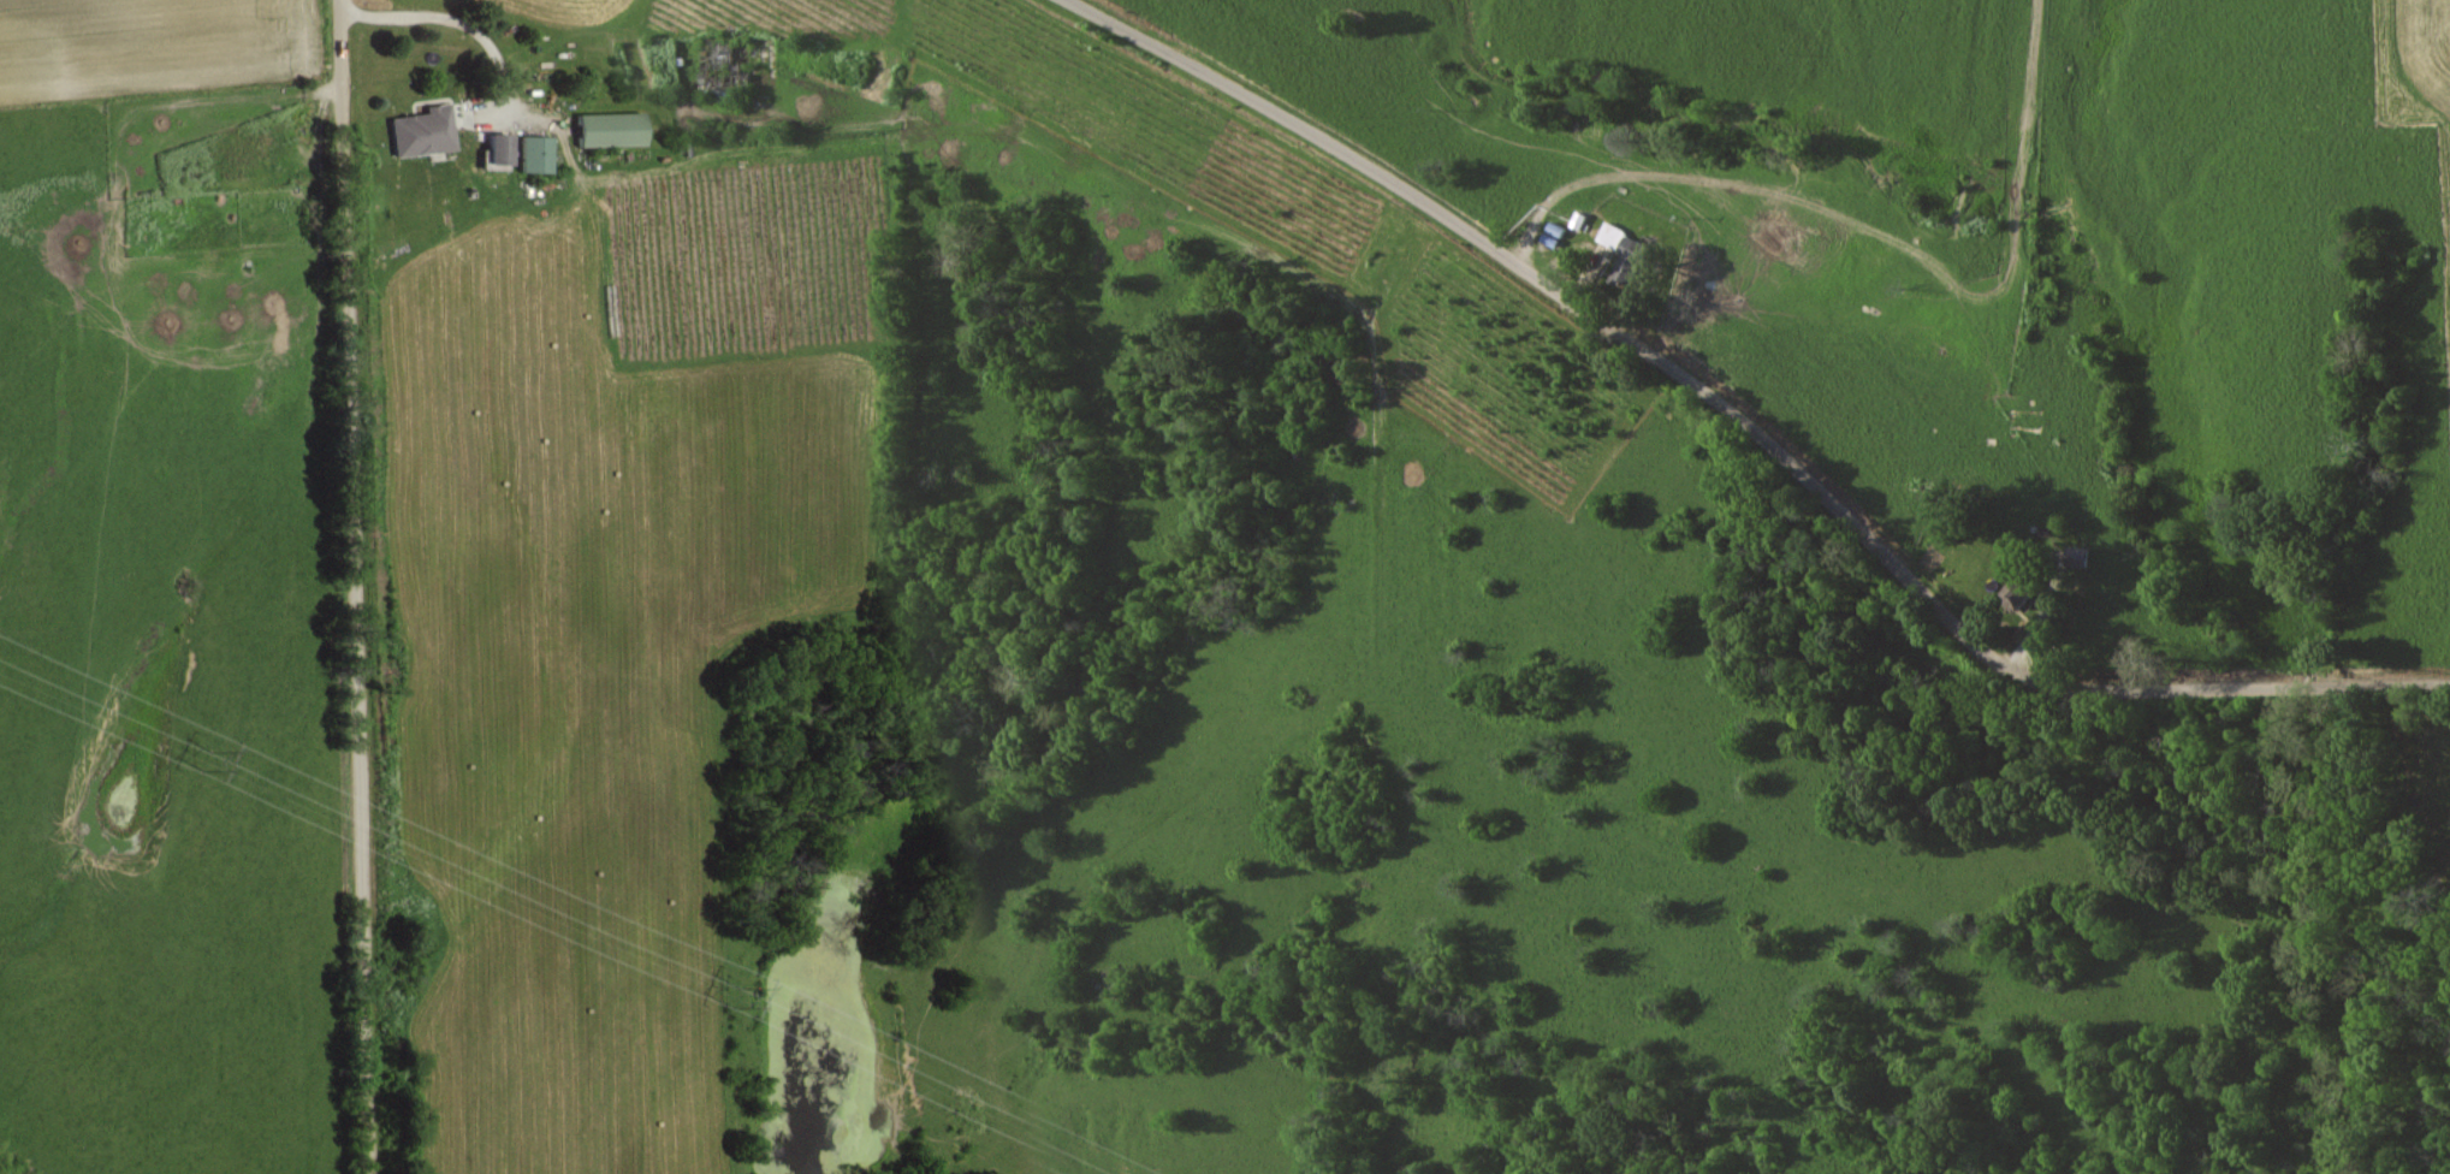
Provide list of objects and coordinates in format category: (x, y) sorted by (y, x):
road: (451, 30)
building: (609, 128)
building: (421, 130)
building: (496, 147)
building: (533, 153)
road: (1690, 186)
building: (1552, 239)
building: (1626, 250)
road: (1744, 427)
road: (362, 586)
power tower: (209, 763)
power tower: (735, 1001)

